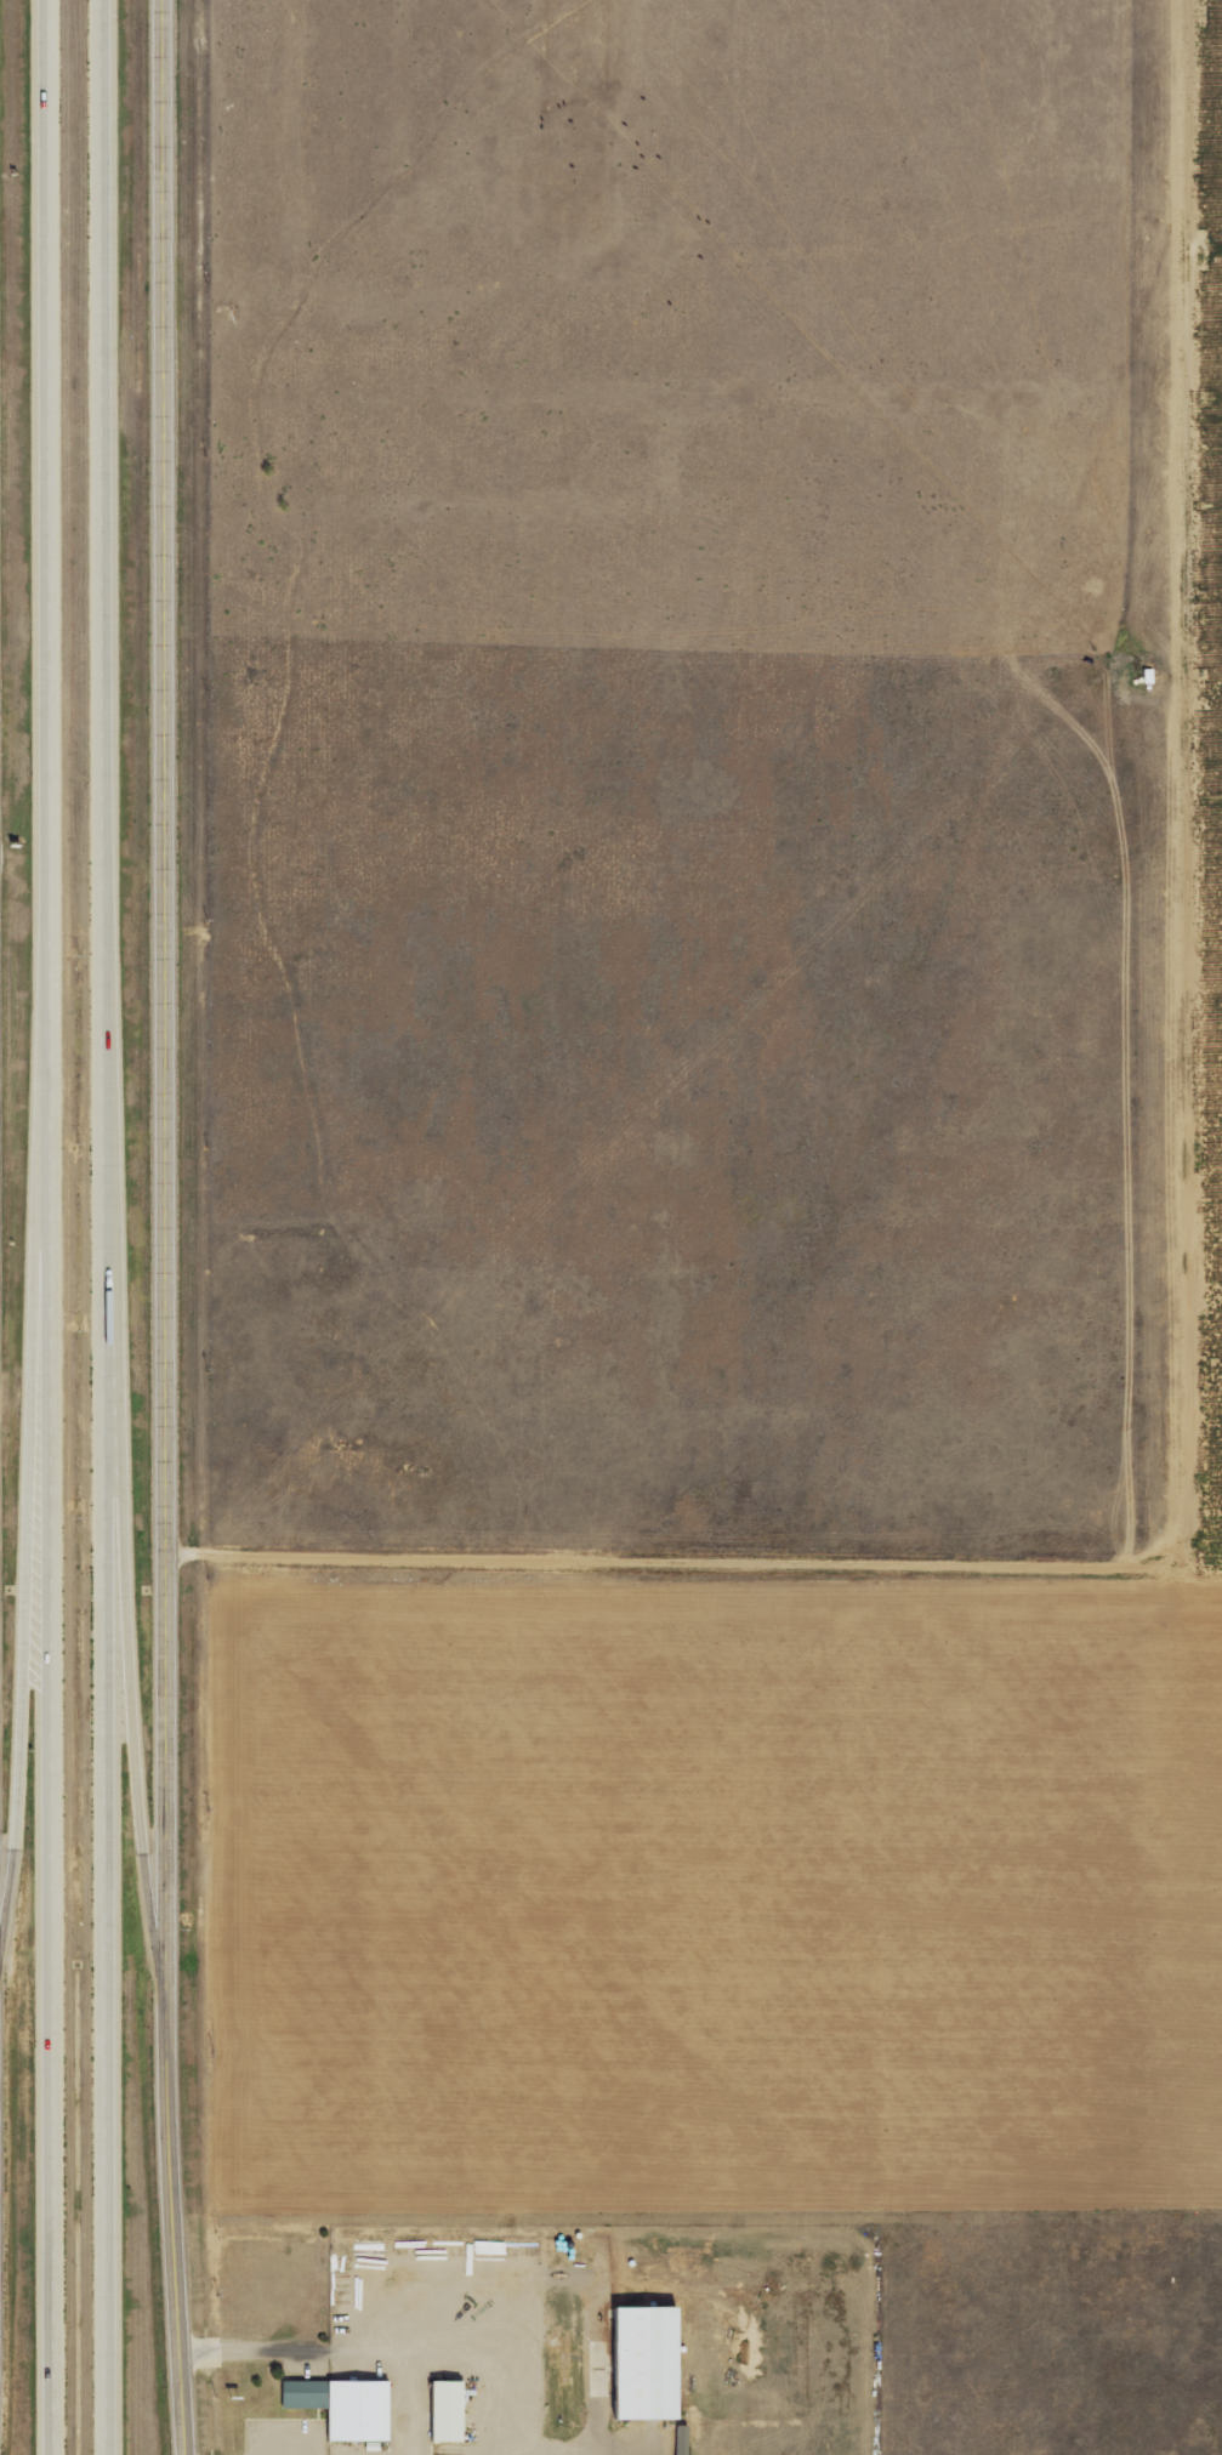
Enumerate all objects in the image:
road: (51, 1227)
road: (115, 1227)
road: (172, 1227)
road: (27, 1572)
road: (136, 1758)
building: (638, 2364)
building: (442, 2413)

